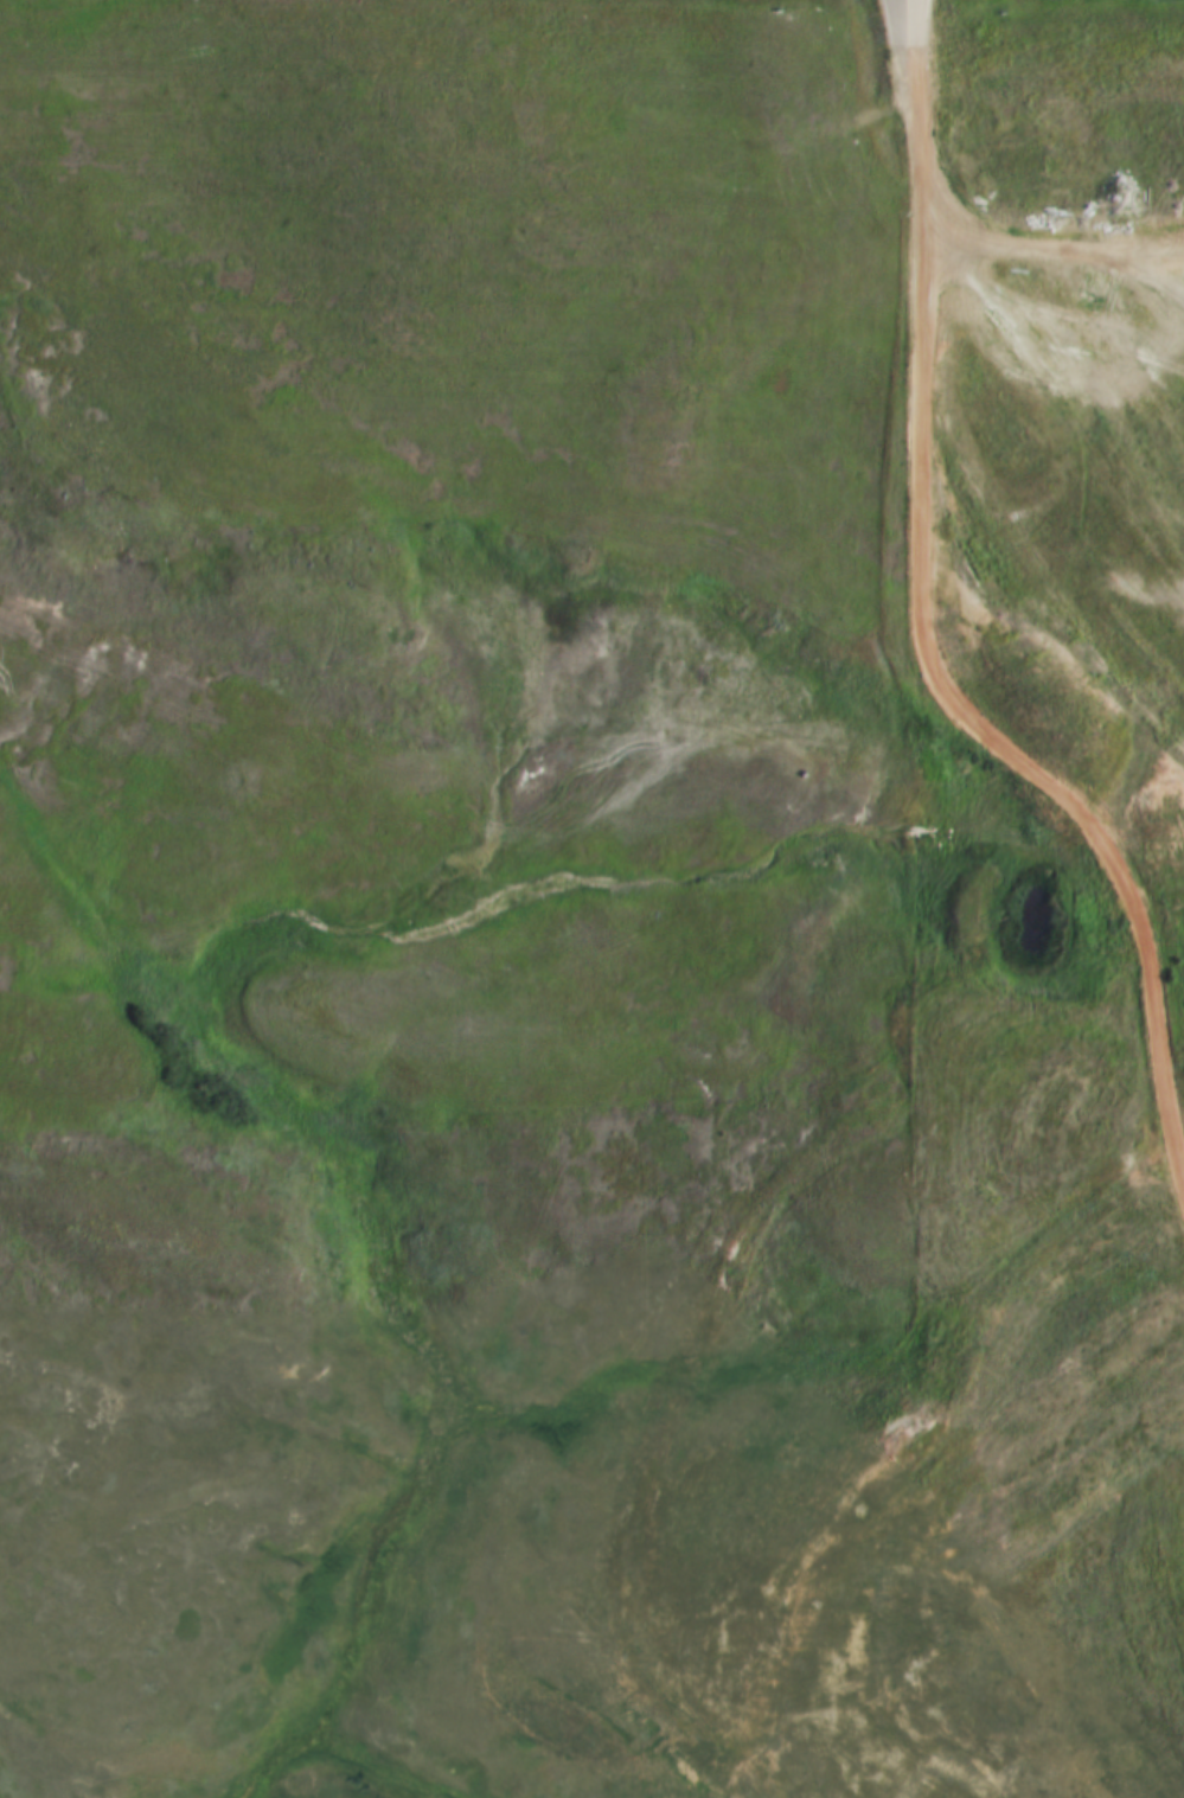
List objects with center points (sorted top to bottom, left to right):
quarry: (1135, 340)
road: (1143, 959)
quarry: (993, 1563)

